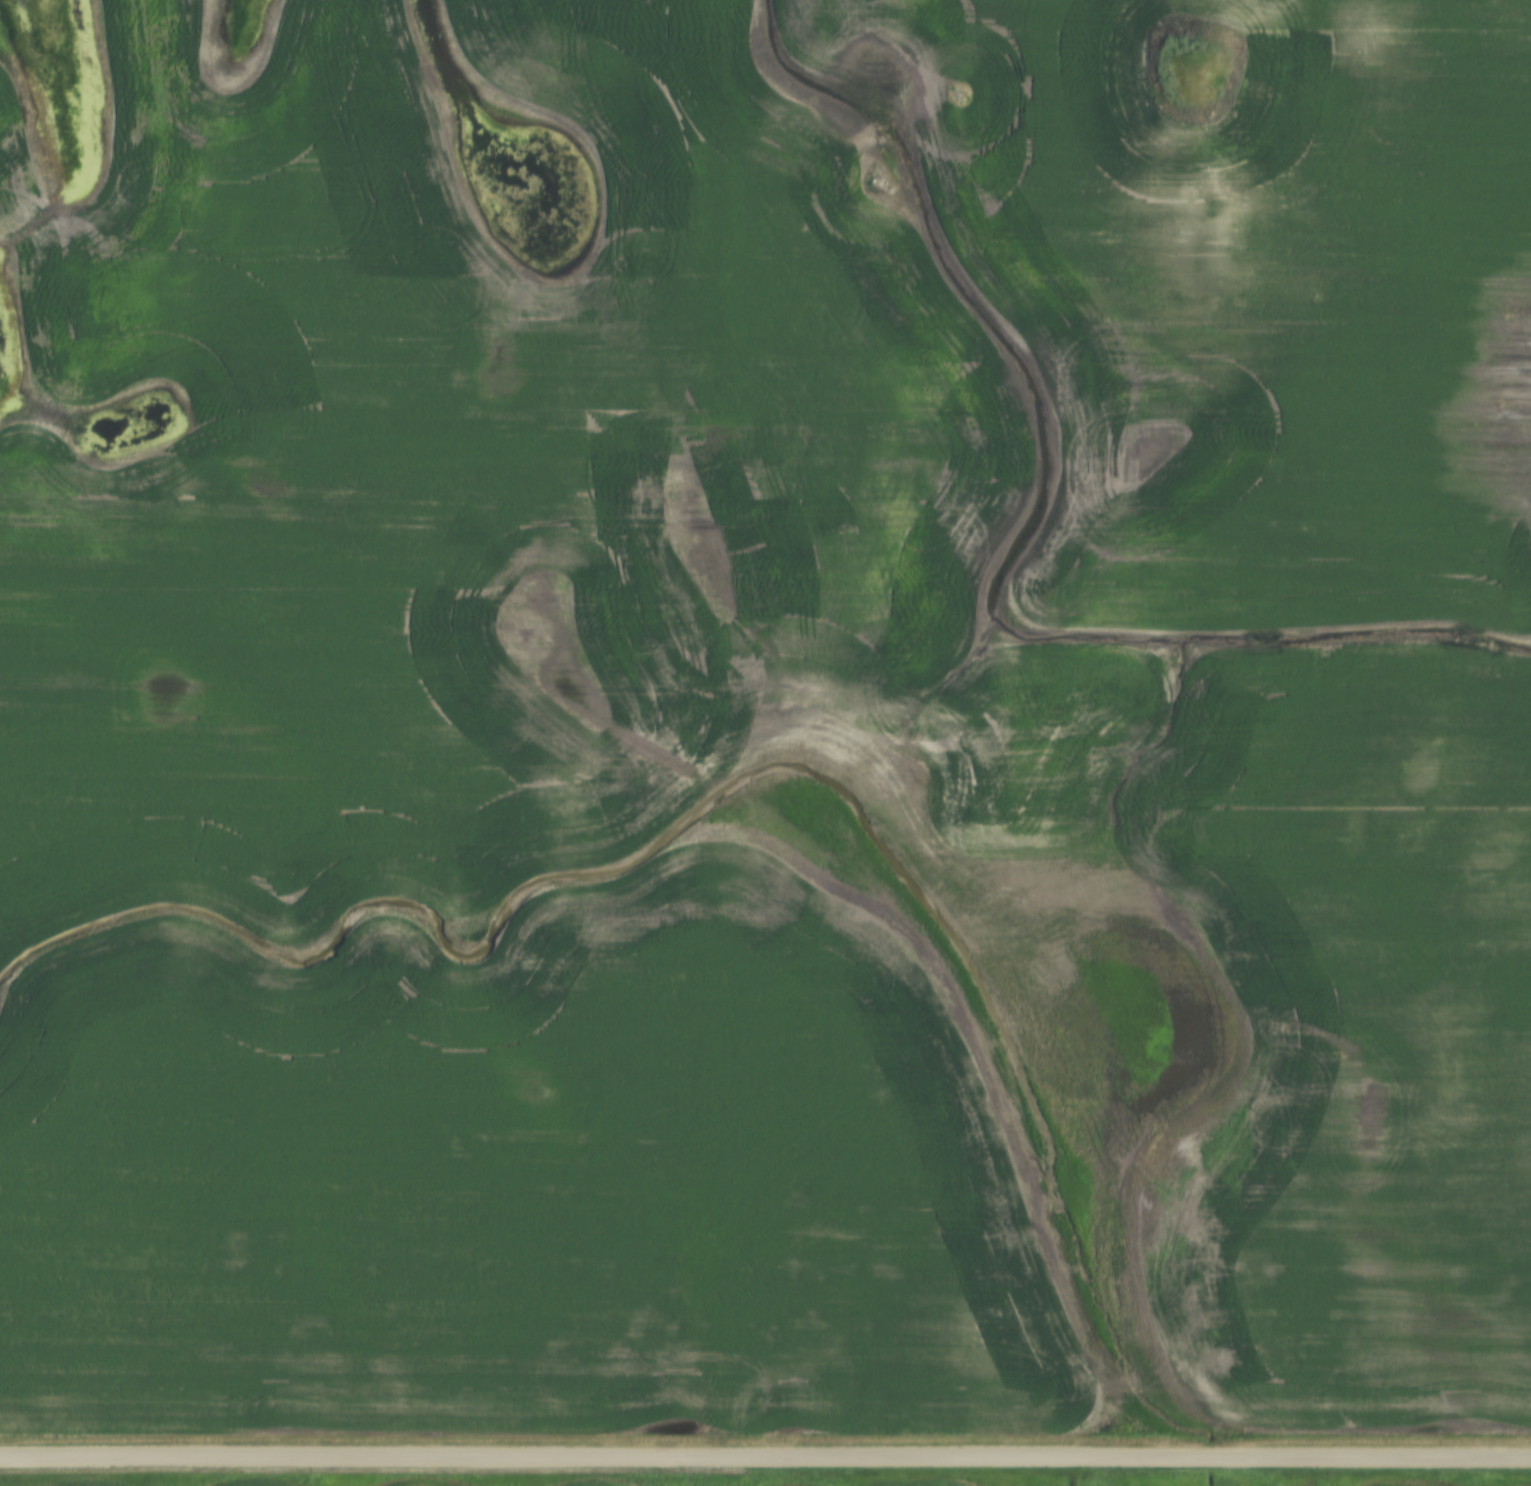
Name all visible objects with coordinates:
road: (765, 1459)

